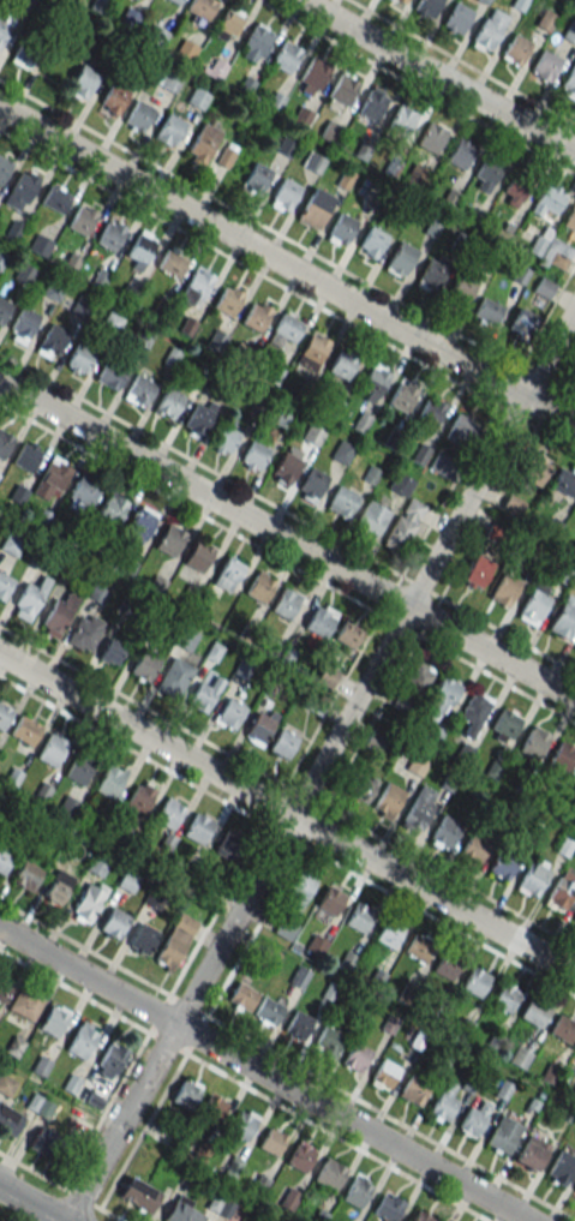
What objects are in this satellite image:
building: (175, 1)
building: (400, 1)
building: (484, 1)
building: (517, 5)
building: (200, 7)
building: (426, 7)
building: (457, 18)
building: (544, 19)
building: (229, 23)
building: (4, 31)
building: (569, 32)
building: (486, 34)
building: (257, 41)
building: (185, 50)
building: (516, 50)
building: (28, 53)
building: (286, 58)
road: (461, 62)
building: (545, 65)
building: (214, 67)
building: (315, 72)
road: (436, 76)
building: (83, 80)
building: (169, 80)
building: (569, 82)
road: (417, 86)
building: (343, 89)
building: (198, 97)
building: (112, 98)
building: (372, 106)
building: (138, 116)
building: (402, 122)
building: (169, 131)
building: (431, 137)
building: (203, 144)
building: (460, 152)
building: (224, 156)
building: (4, 167)
building: (489, 168)
building: (417, 176)
building: (257, 179)
building: (20, 190)
building: (516, 190)
building: (286, 196)
building: (55, 198)
building: (547, 199)
building: (313, 211)
building: (82, 220)
building: (569, 220)
building: (13, 229)
building: (341, 229)
building: (109, 235)
road: (287, 239)
building: (371, 243)
building: (40, 244)
building: (139, 249)
building: (557, 253)
building: (1, 257)
building: (401, 258)
building: (71, 263)
building: (170, 263)
road: (287, 265)
building: (24, 274)
building: (431, 275)
building: (100, 277)
building: (196, 287)
building: (53, 289)
road: (287, 289)
building: (460, 292)
building: (128, 293)
building: (228, 299)
building: (2, 306)
building: (82, 306)
building: (486, 311)
building: (256, 316)
building: (112, 322)
building: (523, 323)
building: (23, 325)
building: (286, 330)
building: (50, 342)
building: (312, 351)
building: (78, 359)
building: (342, 365)
building: (110, 375)
building: (373, 382)
building: (139, 390)
building: (402, 395)
building: (168, 403)
building: (430, 412)
building: (198, 418)
building: (284, 419)
building: (461, 429)
building: (311, 433)
building: (224, 437)
building: (4, 443)
building: (254, 454)
building: (26, 455)
building: (442, 465)
building: (287, 466)
building: (534, 469)
building: (52, 478)
building: (564, 480)
building: (312, 481)
building: (400, 483)
building: (82, 496)
building: (341, 501)
building: (511, 505)
building: (112, 509)
road: (287, 511)
building: (371, 516)
building: (405, 525)
building: (137, 528)
building: (169, 539)
road: (287, 540)
building: (12, 543)
building: (198, 555)
building: (475, 570)
building: (228, 574)
building: (4, 585)
building: (259, 587)
building: (504, 589)
building: (98, 591)
building: (29, 599)
building: (286, 604)
building: (534, 604)
building: (58, 615)
building: (564, 618)
building: (319, 621)
building: (85, 632)
building: (348, 635)
building: (574, 648)
building: (112, 652)
building: (146, 660)
building: (174, 676)
building: (327, 676)
building: (418, 677)
road: (390, 682)
building: (204, 695)
building: (441, 699)
building: (402, 701)
road: (324, 712)
building: (474, 712)
building: (230, 713)
building: (4, 714)
building: (504, 725)
building: (260, 726)
building: (24, 730)
building: (375, 741)
building: (283, 743)
building: (533, 743)
building: (52, 749)
building: (561, 759)
road: (321, 764)
building: (78, 768)
building: (574, 780)
building: (109, 782)
road: (287, 786)
building: (363, 788)
building: (139, 796)
building: (387, 801)
building: (66, 809)
building: (419, 809)
building: (169, 812)
road: (287, 814)
building: (199, 827)
building: (444, 832)
road: (287, 837)
building: (230, 846)
building: (473, 848)
building: (4, 861)
building: (98, 863)
building: (502, 866)
building: (26, 875)
building: (533, 879)
building: (128, 880)
building: (56, 887)
building: (298, 891)
building: (559, 894)
building: (330, 900)
building: (88, 902)
building: (359, 917)
building: (114, 922)
building: (574, 922)
building: (389, 933)
building: (142, 939)
building: (175, 941)
building: (418, 948)
building: (447, 965)
building: (475, 982)
building: (4, 989)
road: (73, 990)
building: (242, 996)
building: (504, 998)
building: (24, 1004)
building: (268, 1010)
building: (532, 1011)
building: (52, 1022)
building: (298, 1025)
building: (562, 1029)
road: (244, 1036)
building: (80, 1040)
building: (328, 1042)
building: (115, 1057)
building: (519, 1057)
building: (357, 1058)
road: (264, 1075)
building: (384, 1075)
building: (5, 1085)
building: (414, 1089)
building: (186, 1094)
building: (443, 1103)
building: (212, 1109)
building: (8, 1120)
building: (473, 1120)
building: (242, 1124)
building: (503, 1135)
road: (336, 1137)
building: (42, 1142)
building: (271, 1142)
building: (532, 1150)
building: (300, 1155)
building: (562, 1165)
building: (329, 1174)
road: (49, 1180)
building: (573, 1190)
building: (357, 1191)
building: (138, 1195)
road: (29, 1204)
building: (222, 1207)
building: (388, 1207)
building: (181, 1213)
building: (420, 1217)

